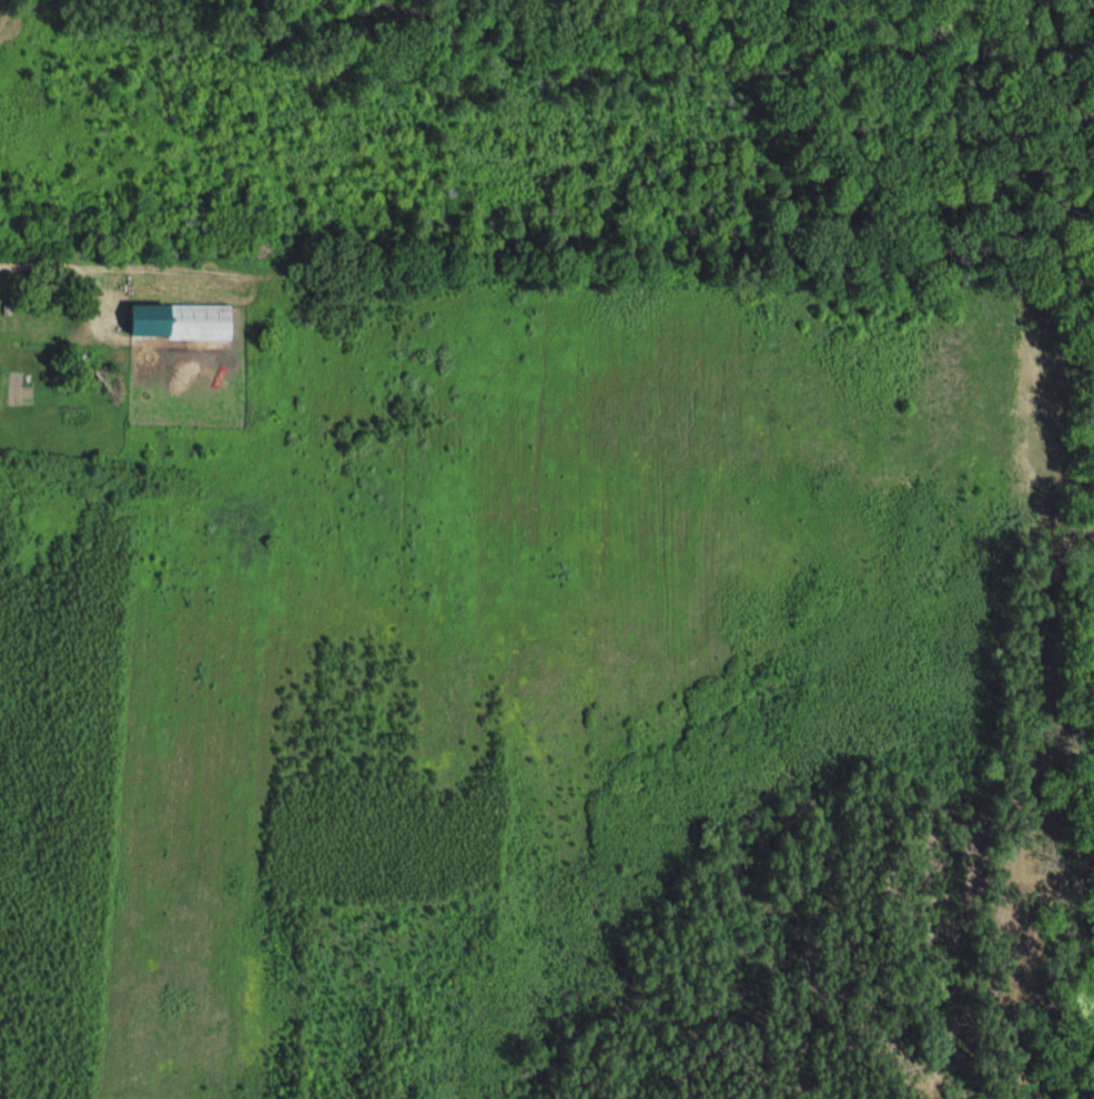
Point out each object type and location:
road: (109, 266)
building: (175, 323)

